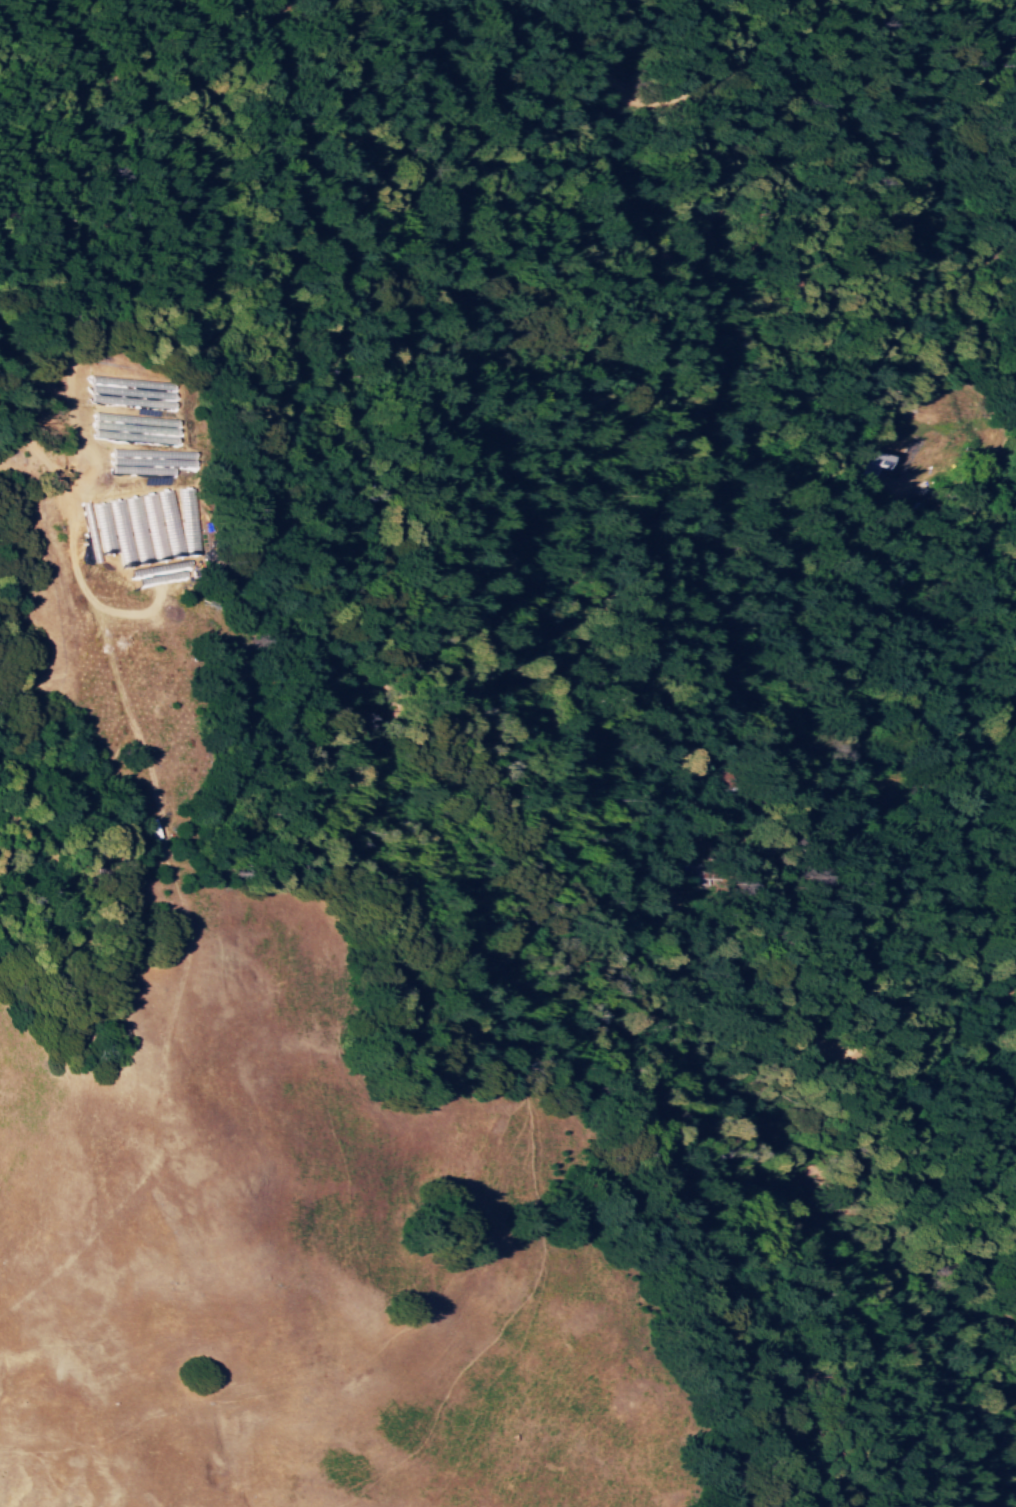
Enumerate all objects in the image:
road: (735, 579)

